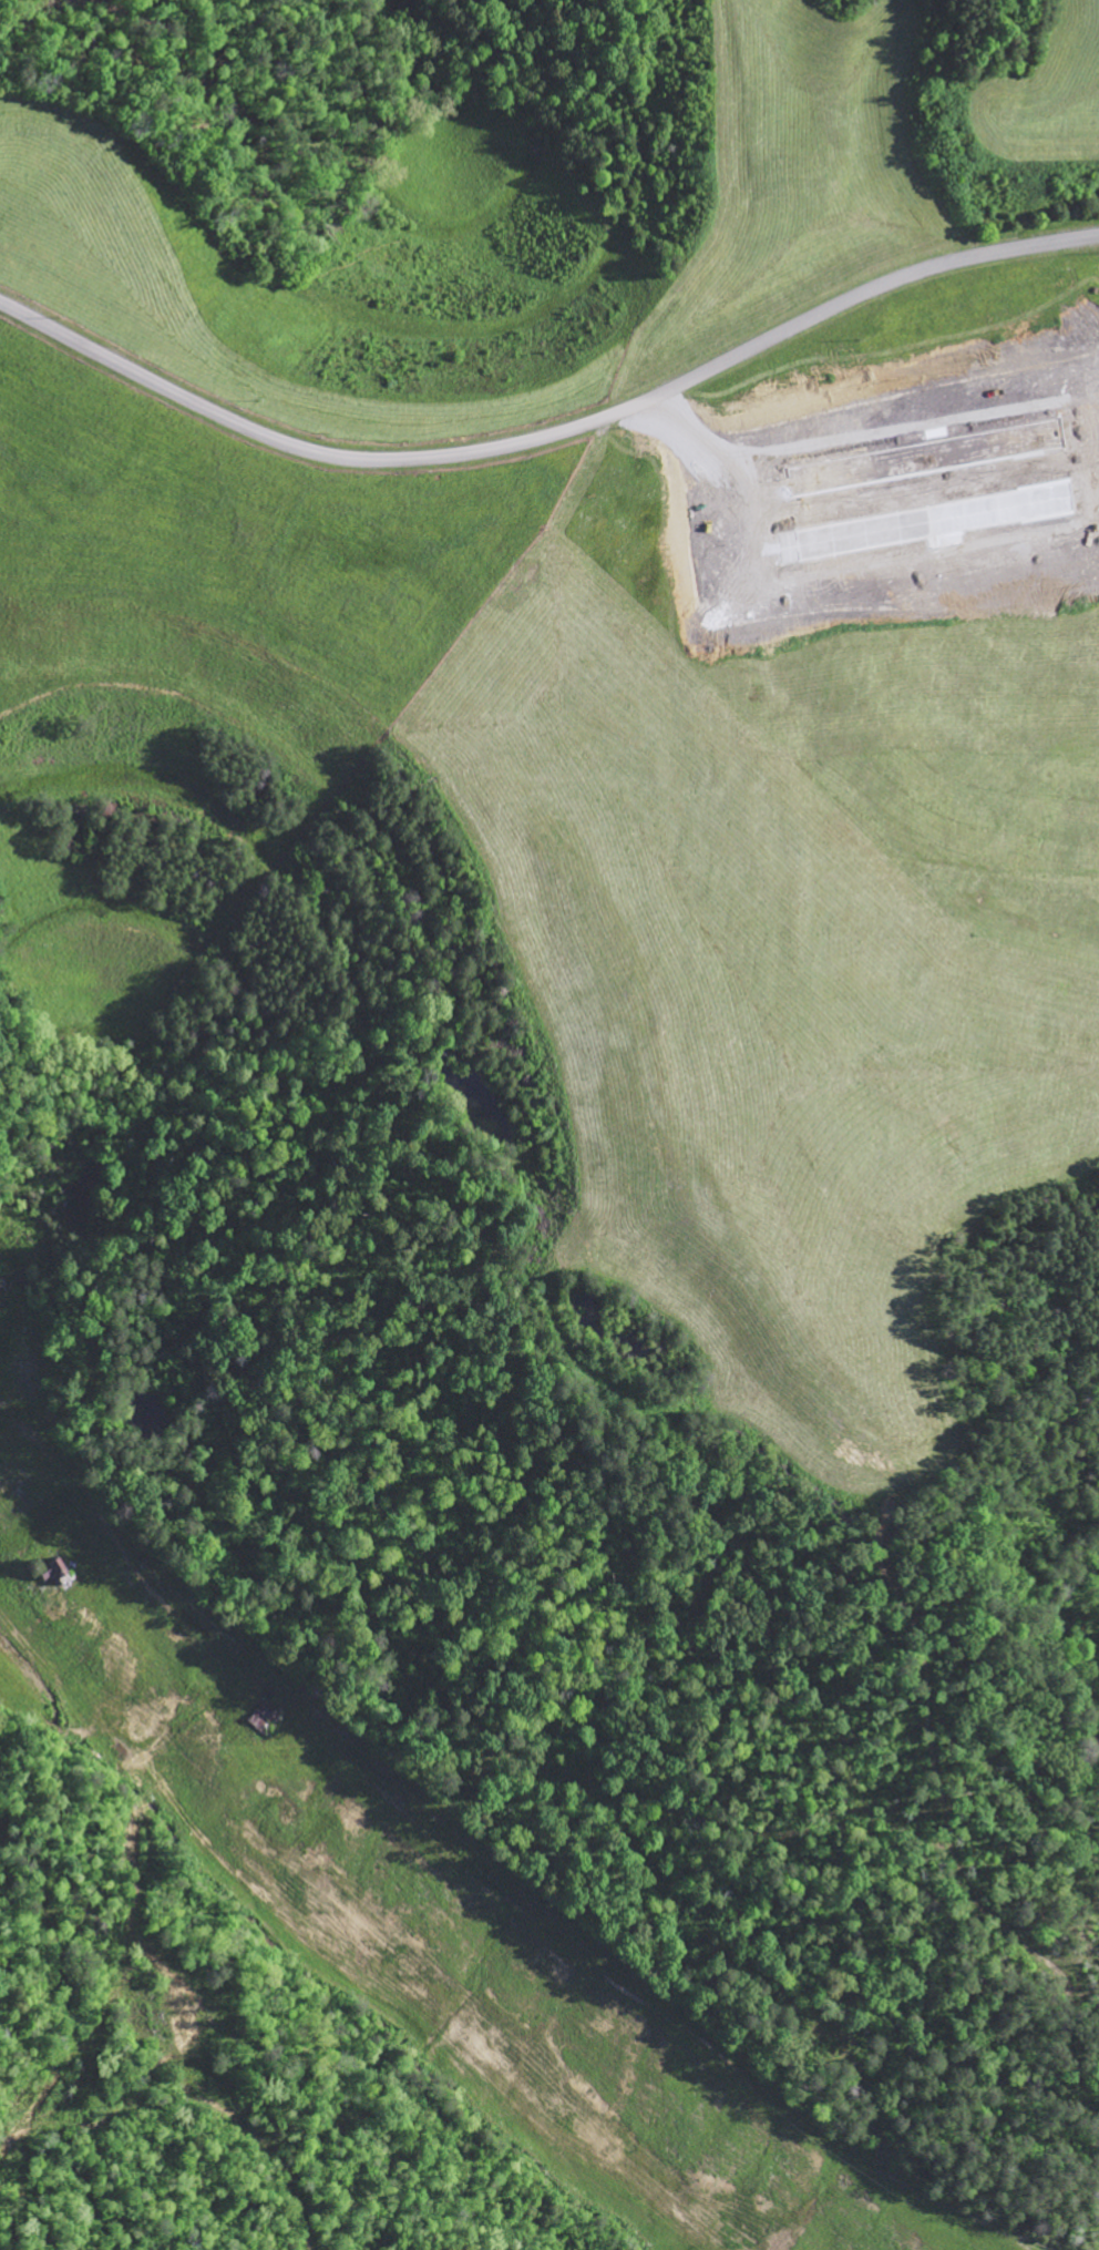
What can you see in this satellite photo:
road: (547, 428)
building: (60, 1574)

